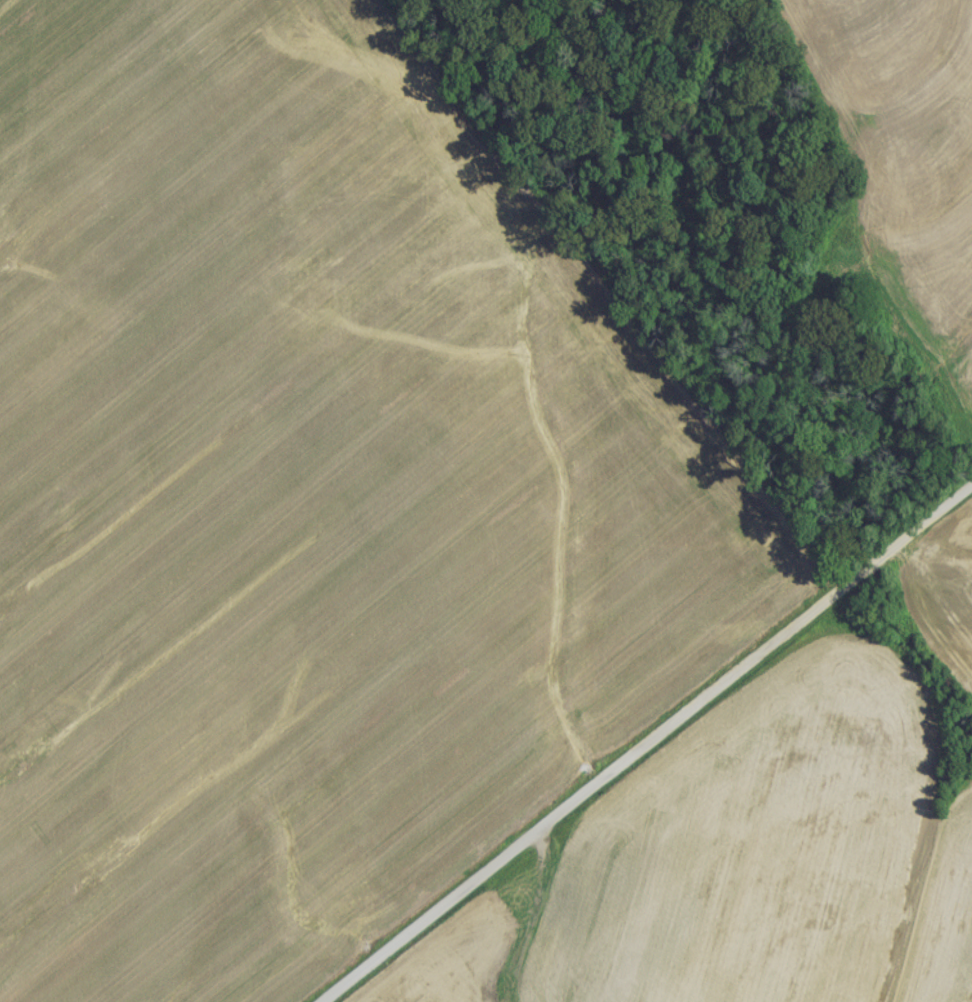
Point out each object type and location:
road: (637, 732)

